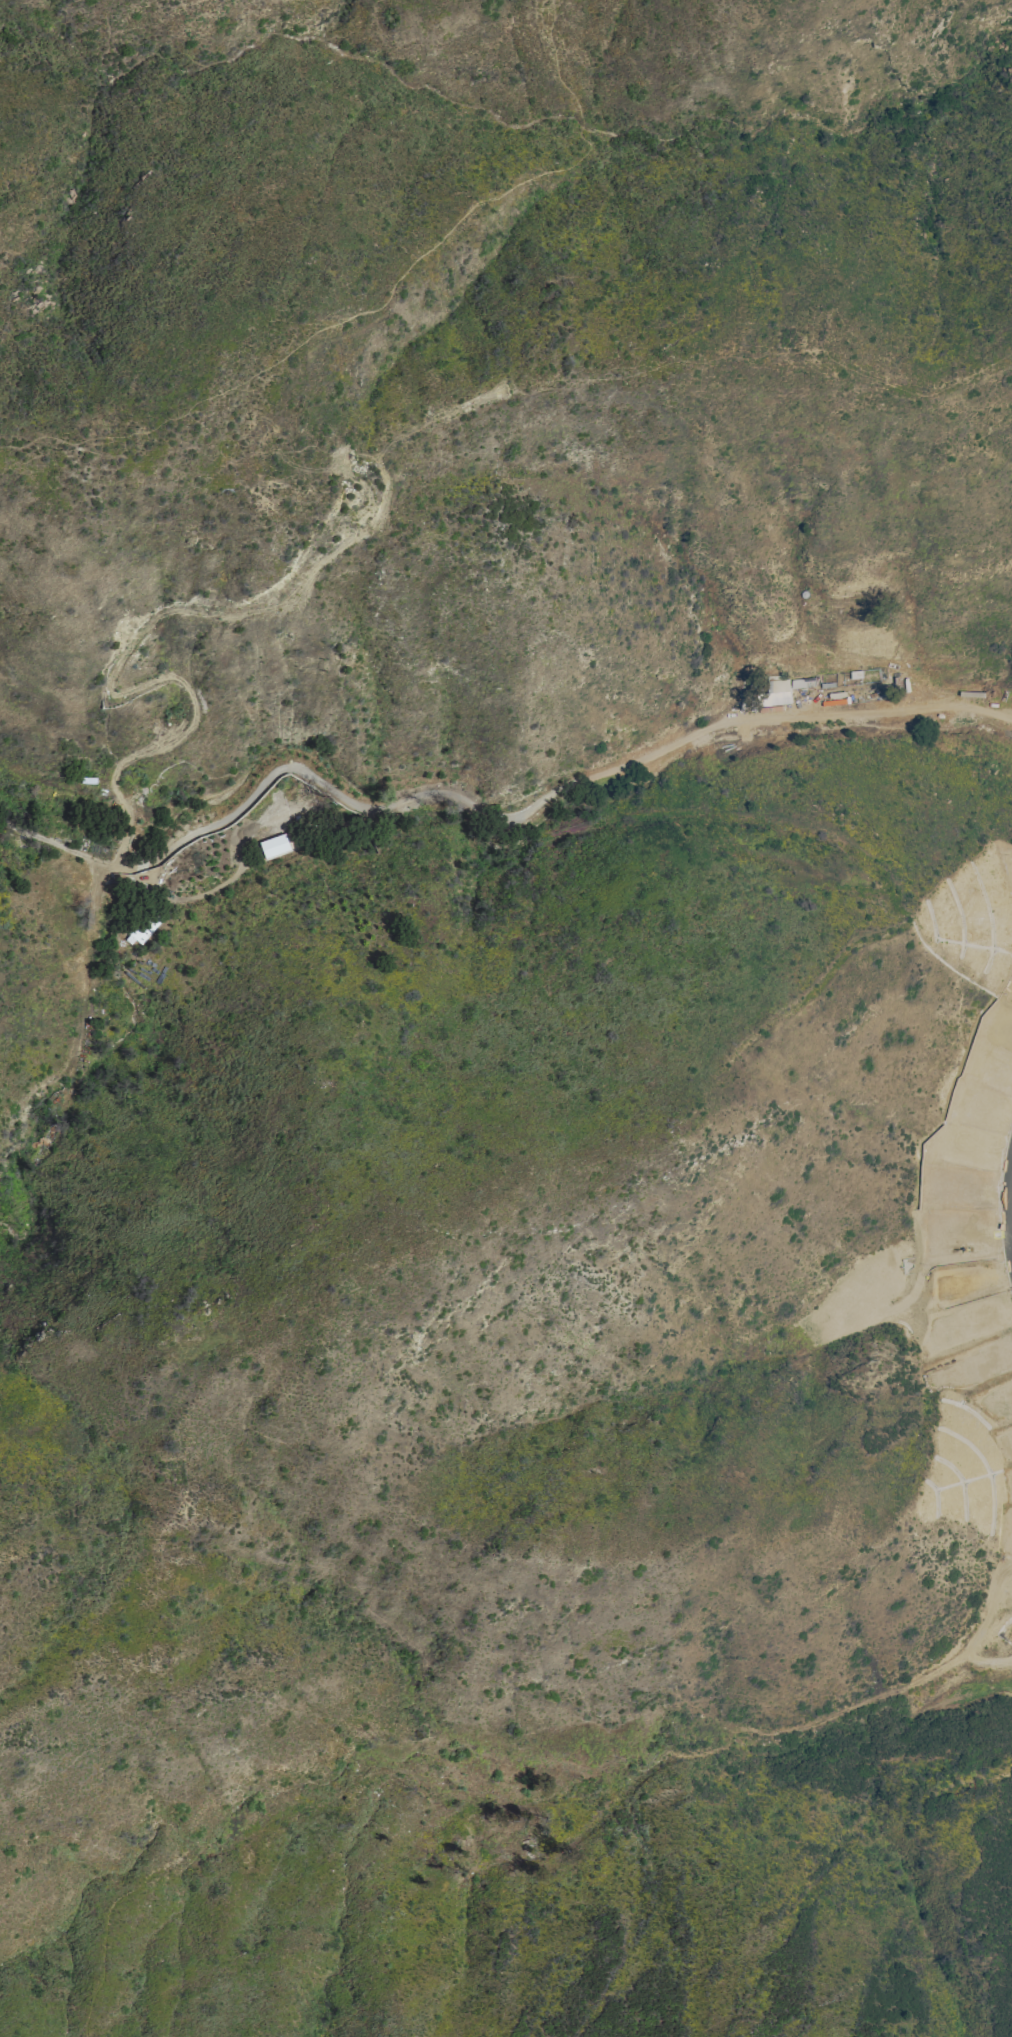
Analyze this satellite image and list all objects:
road: (695, 361)
road: (363, 486)
road: (125, 651)
building: (802, 681)
building: (776, 691)
building: (996, 691)
road: (980, 710)
road: (457, 818)
building: (175, 866)
building: (140, 928)
building: (48, 1139)

